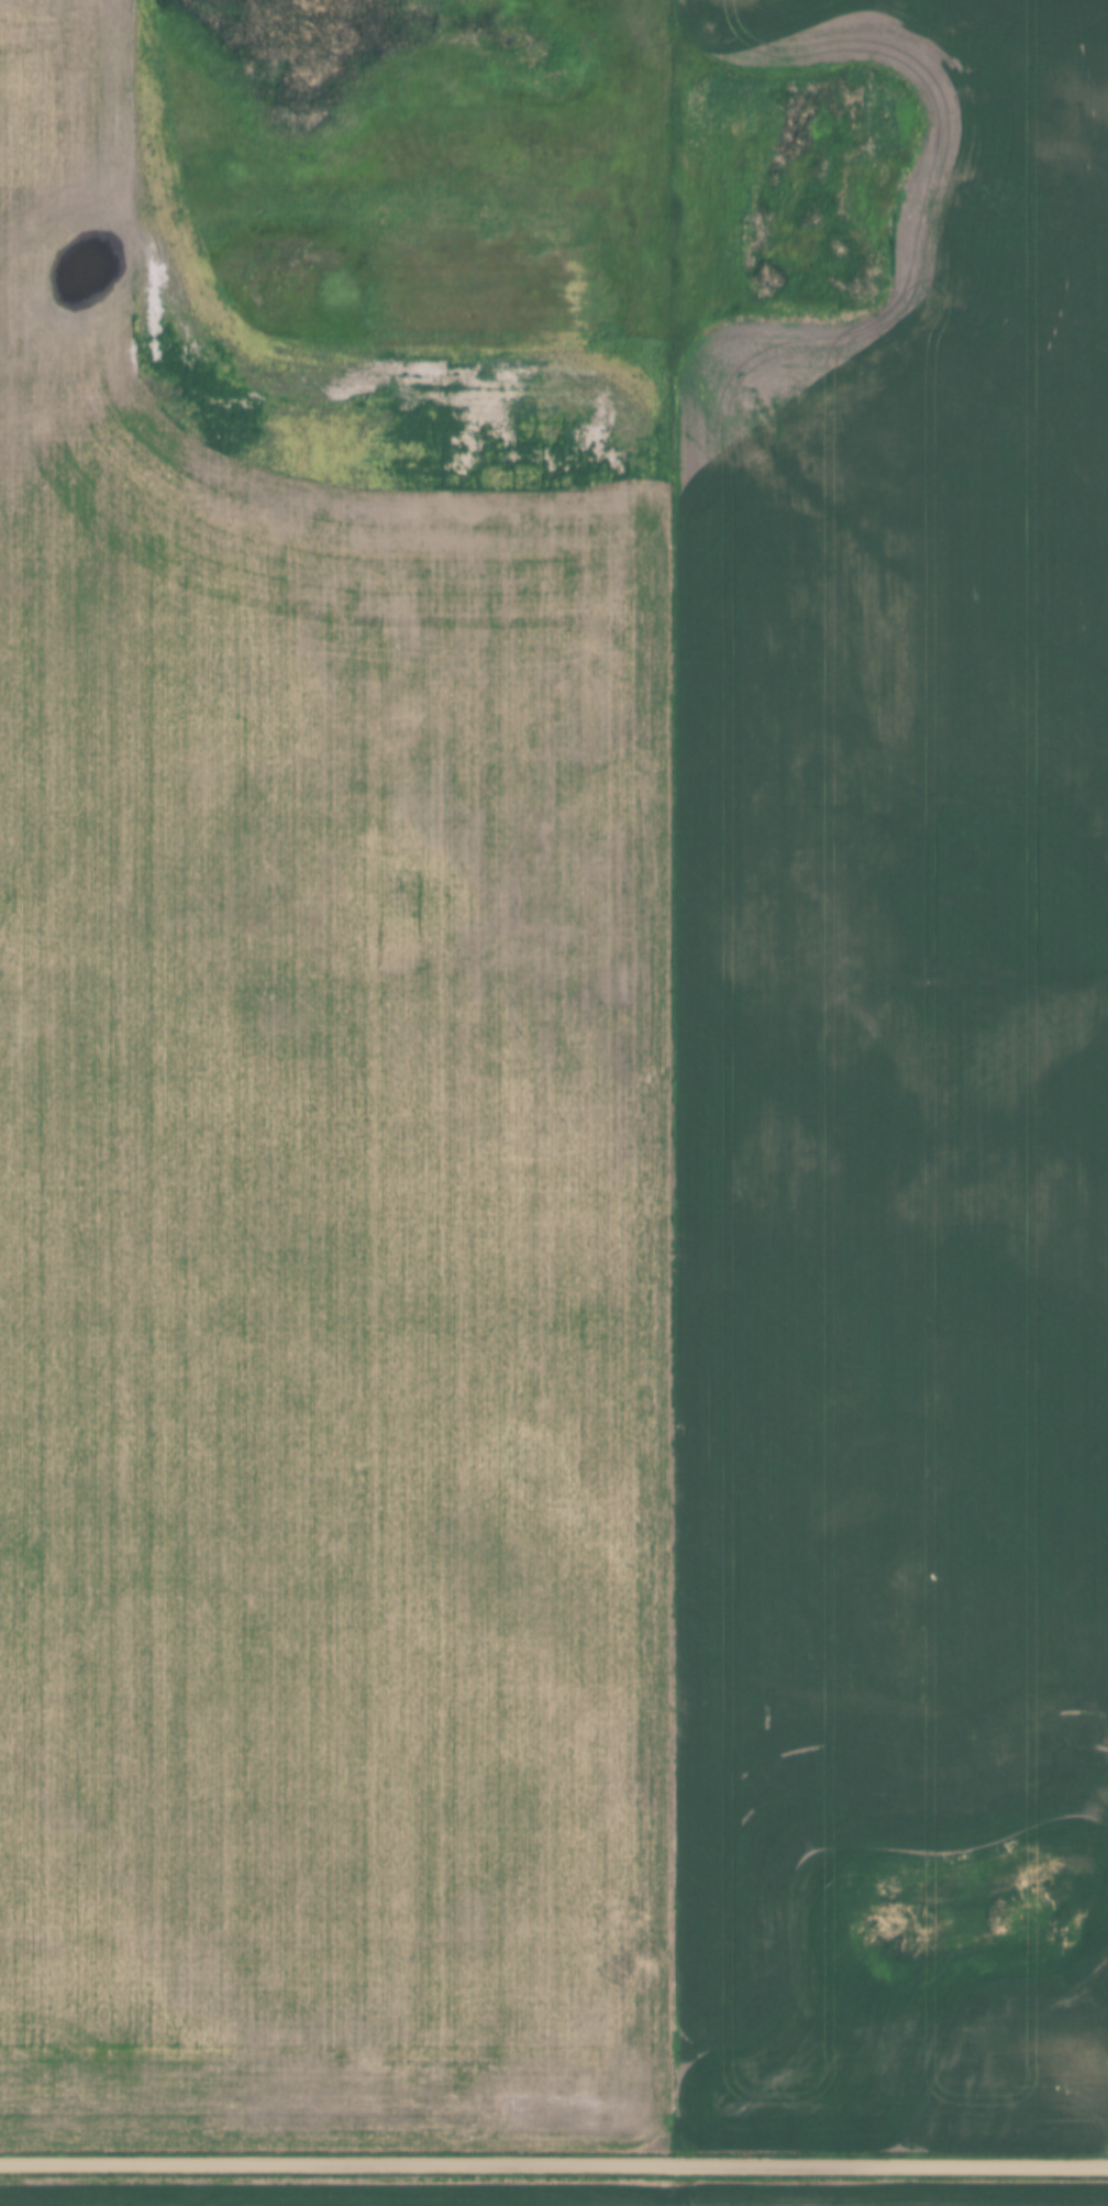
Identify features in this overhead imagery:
road: (554, 2166)

